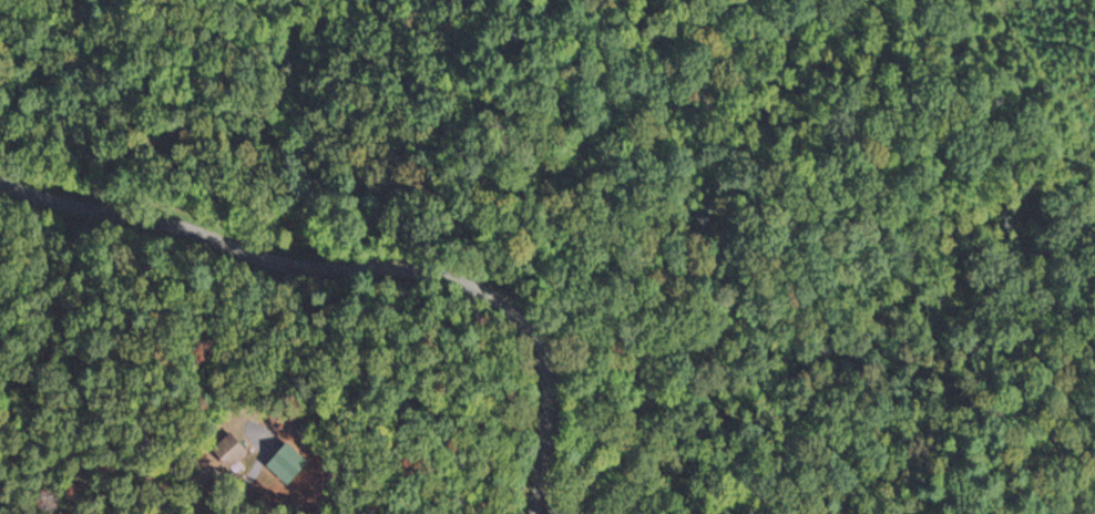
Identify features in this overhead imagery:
road: (360, 268)
building: (245, 462)

